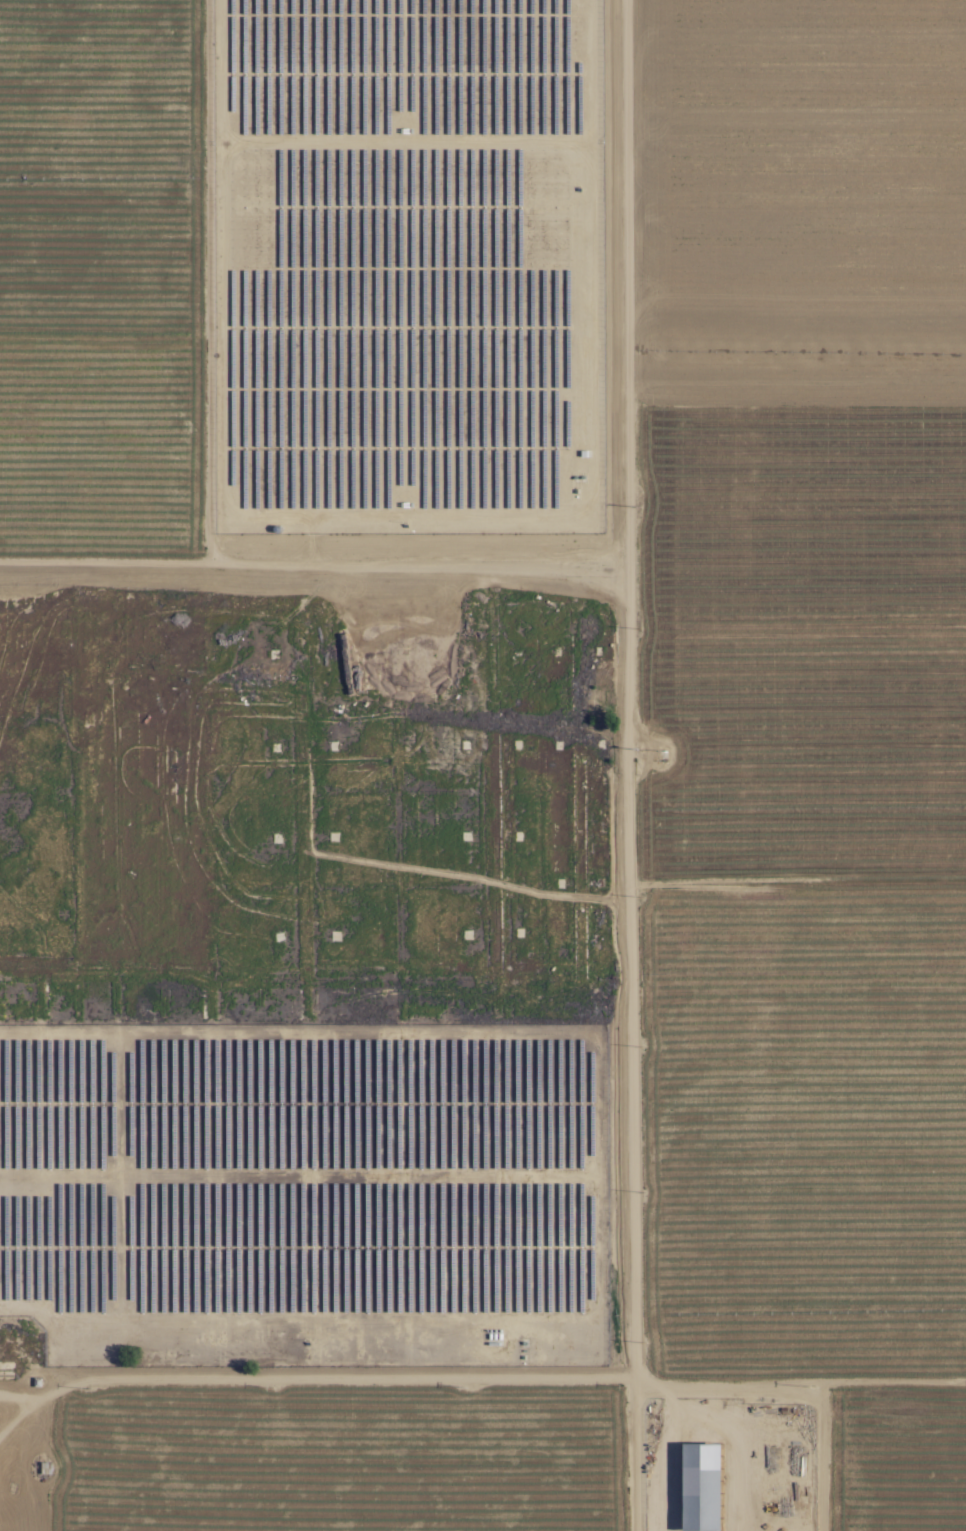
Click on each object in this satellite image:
solar farm: (407, 266)
crop: (591, 528)
solar farm: (306, 1193)
road: (481, 1373)
crop: (335, 1452)
road: (636, 1452)
building: (703, 1484)

